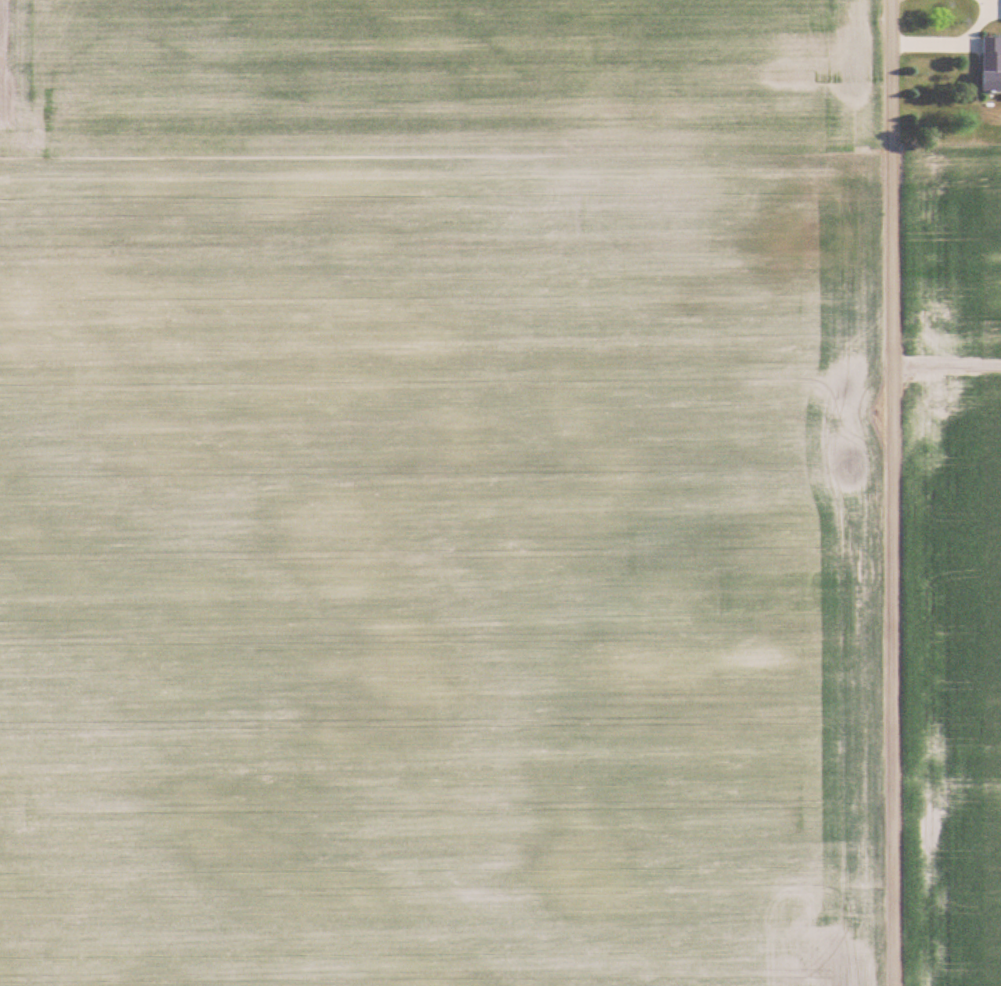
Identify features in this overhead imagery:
building: (991, 65)
road: (943, 364)
road: (886, 492)

